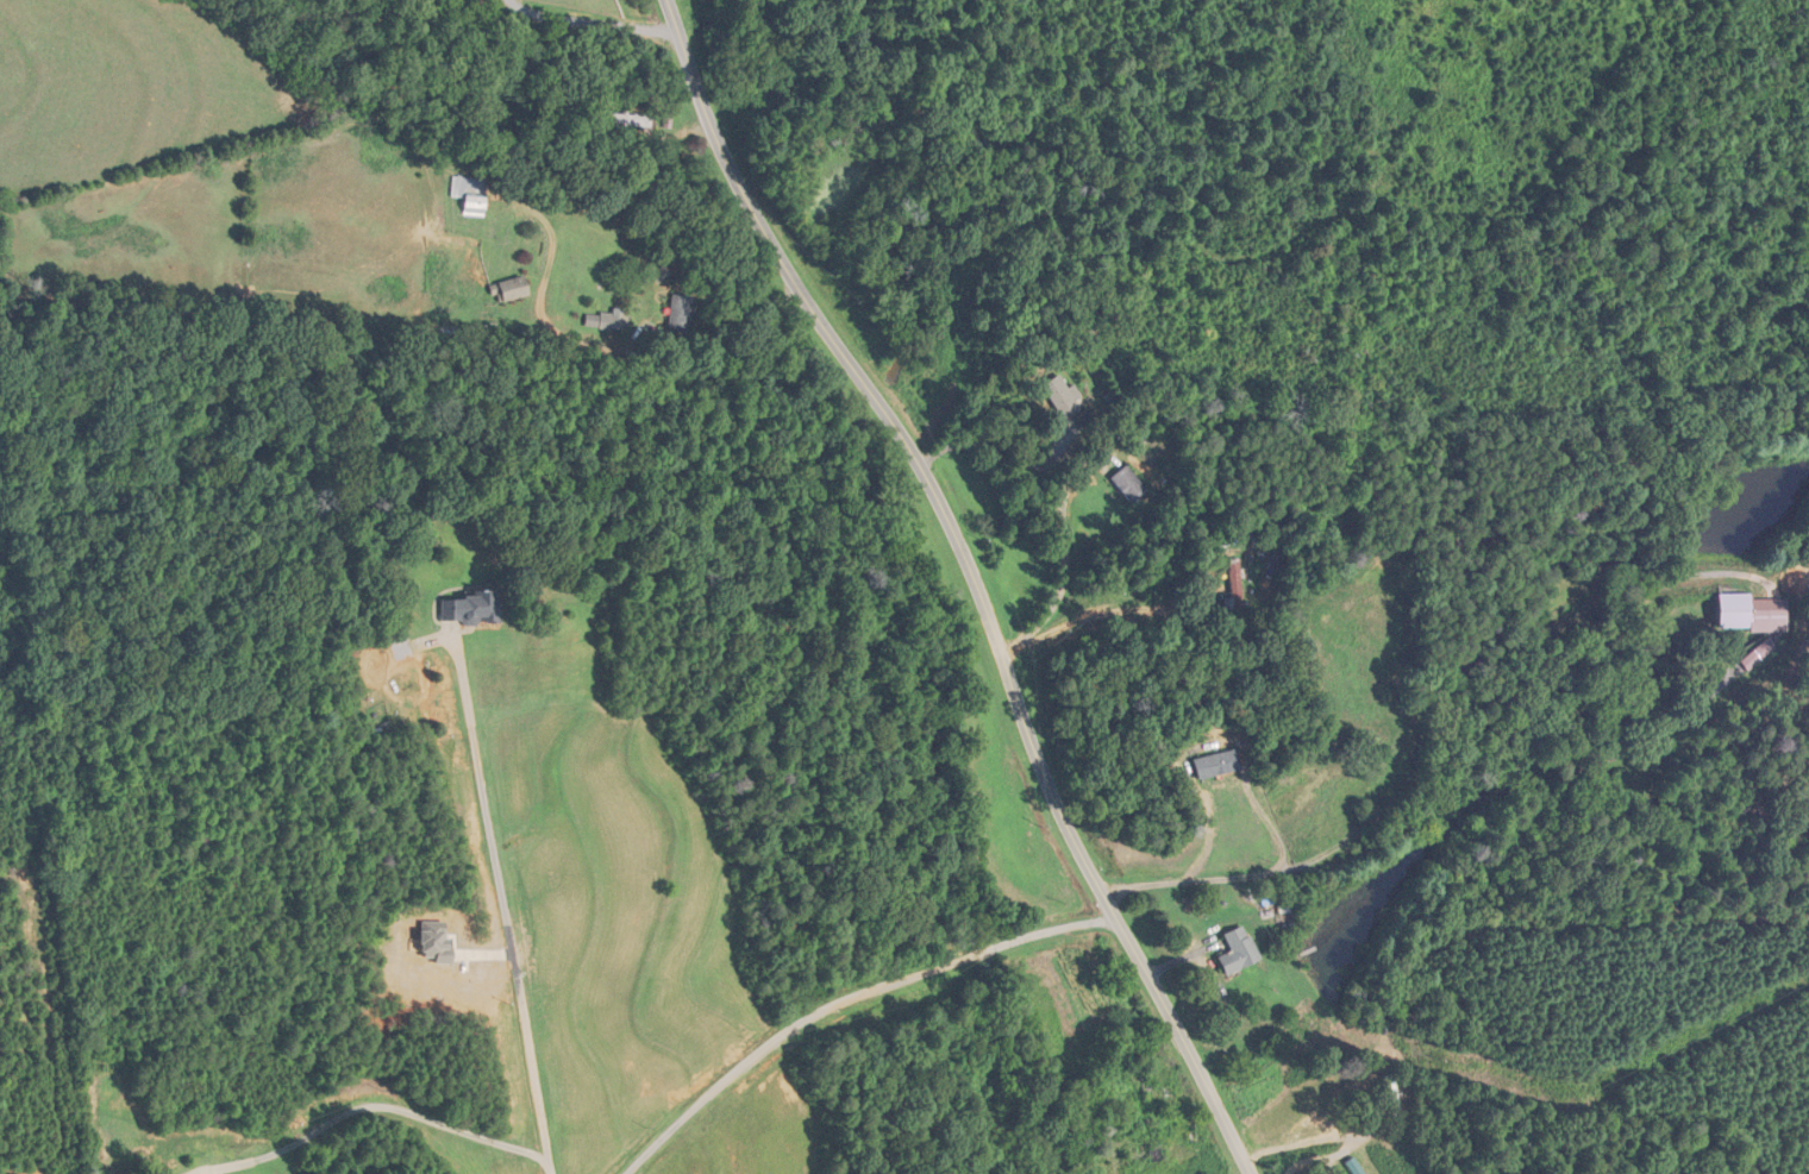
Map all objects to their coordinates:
road: (593, 20)
building: (633, 120)
building: (472, 194)
building: (517, 289)
building: (684, 313)
building: (613, 320)
road: (618, 350)
building: (1059, 396)
road: (1004, 450)
building: (1126, 483)
road: (1064, 567)
road: (974, 578)
building: (1234, 585)
building: (472, 607)
road: (1113, 608)
building: (1752, 611)
building: (1212, 762)
building: (1803, 799)
road: (1212, 830)
road: (1247, 874)
road: (503, 902)
building: (1235, 950)
road: (849, 1002)
road: (371, 1105)
building: (1394, 1110)
building: (1148, 1155)
building: (1353, 1166)

